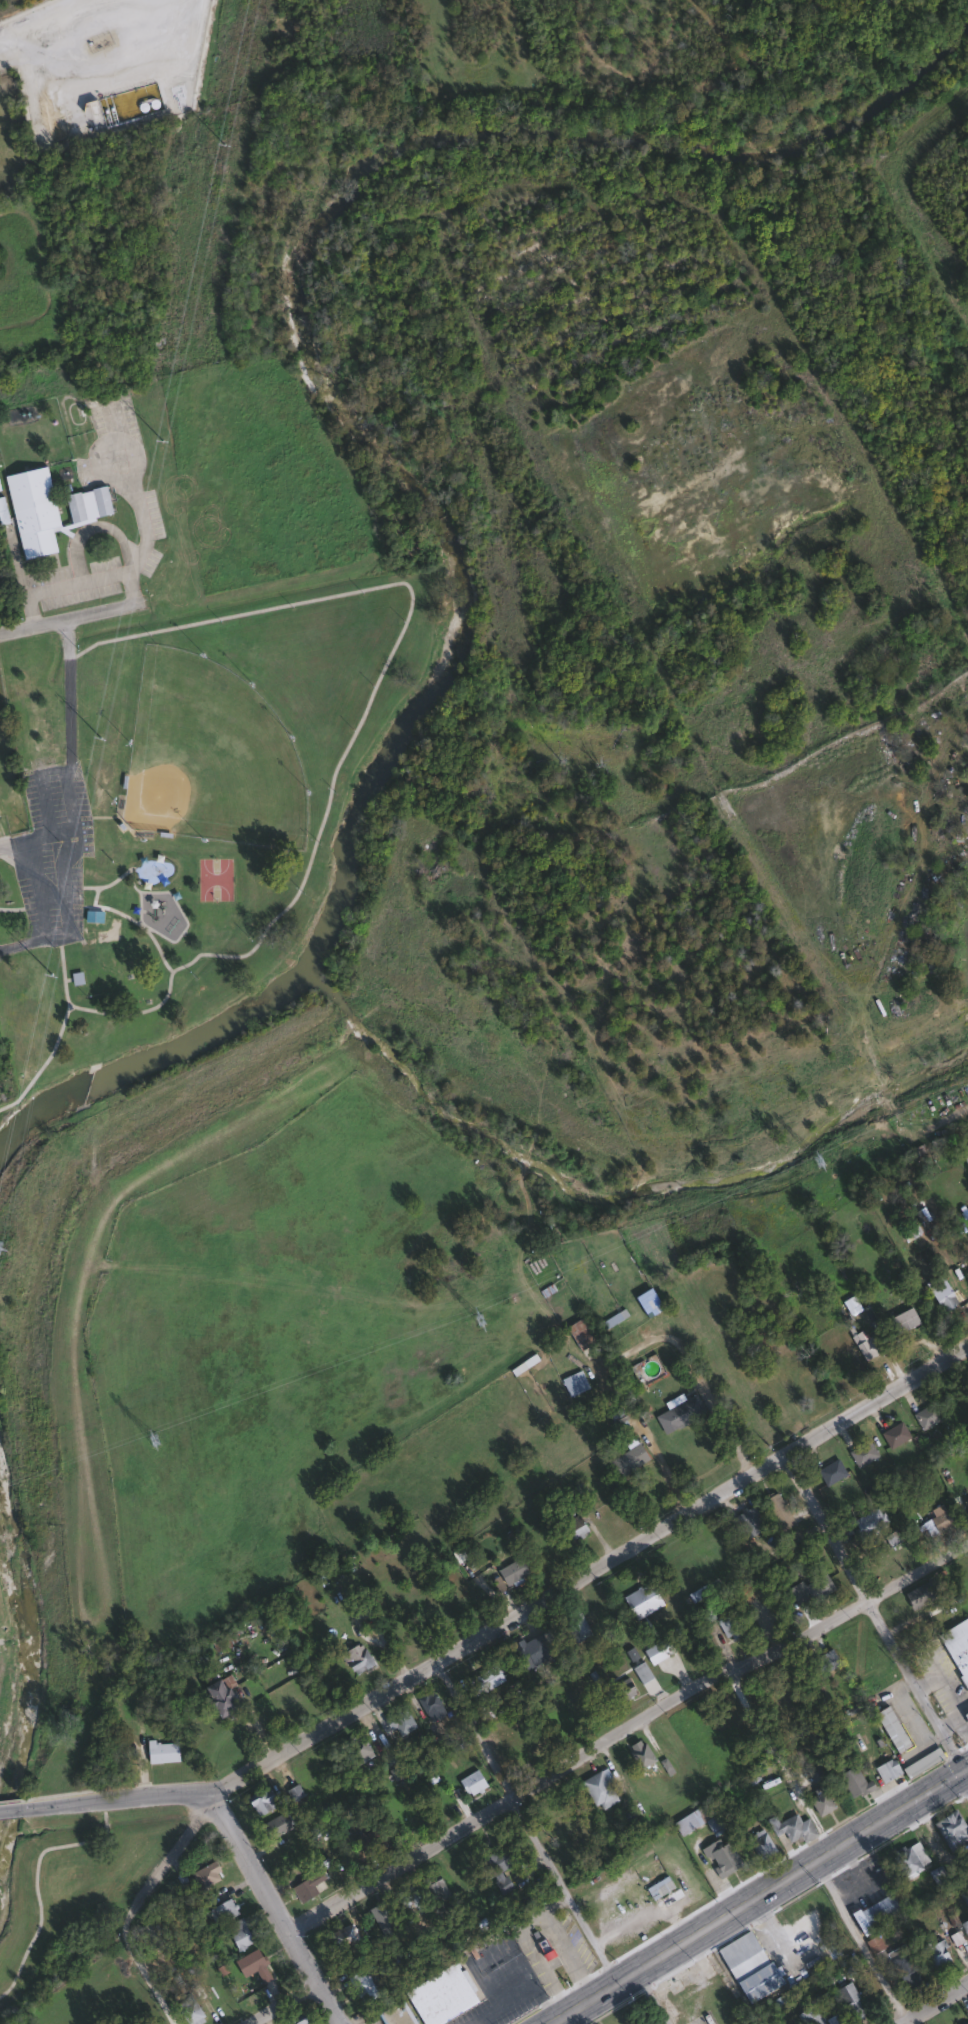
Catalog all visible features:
building: (74, 1)
building: (132, 48)
power tower: (221, 145)
building: (86, 504)
building: (30, 510)
road: (93, 524)
road: (79, 580)
road: (67, 621)
power tower: (99, 737)
road: (74, 760)
road: (334, 768)
park: (205, 785)
road: (15, 847)
road: (107, 882)
road: (137, 894)
road: (94, 896)
road: (39, 905)
building: (90, 913)
road: (183, 918)
road: (136, 921)
road: (9, 945)
park: (33, 1046)
power tower: (815, 1159)
building: (939, 1291)
building: (901, 1320)
building: (577, 1331)
building: (863, 1345)
building: (572, 1382)
building: (676, 1412)
building: (925, 1415)
building: (617, 1419)
building: (894, 1434)
power tower: (152, 1439)
building: (861, 1453)
building: (829, 1471)
building: (966, 1503)
building: (777, 1511)
building: (937, 1519)
building: (748, 1522)
building: (867, 1522)
building: (575, 1528)
building: (510, 1571)
road: (586, 1575)
building: (809, 1588)
building: (917, 1594)
building: (640, 1600)
road: (871, 1614)
building: (574, 1625)
building: (957, 1646)
building: (657, 1649)
building: (530, 1650)
park: (13, 1652)
building: (354, 1657)
building: (639, 1671)
building: (483, 1679)
road: (927, 1682)
building: (621, 1687)
road: (948, 1689)
building: (217, 1698)
building: (428, 1705)
road: (964, 1707)
building: (966, 1714)
building: (911, 1715)
building: (400, 1721)
road: (961, 1723)
road: (623, 1726)
building: (890, 1727)
building: (354, 1749)
building: (159, 1751)
building: (639, 1752)
road: (780, 1761)
building: (883, 1761)
building: (921, 1761)
road: (964, 1777)
building: (852, 1779)
building: (470, 1781)
building: (597, 1789)
building: (820, 1797)
road: (13, 1799)
road: (118, 1799)
building: (260, 1800)
road: (14, 1809)
road: (525, 1822)
building: (272, 1824)
building: (952, 1828)
building: (780, 1833)
building: (370, 1839)
road: (56, 1846)
building: (721, 1854)
building: (908, 1857)
road: (161, 1867)
building: (498, 1868)
building: (202, 1875)
park: (72, 1884)
building: (433, 1884)
building: (305, 1885)
building: (658, 1886)
road: (756, 1894)
building: (407, 1896)
road: (277, 1909)
building: (220, 1910)
building: (873, 1911)
road: (642, 1915)
building: (381, 1916)
building: (965, 1927)
building: (237, 1932)
building: (149, 1937)
building: (339, 1937)
road: (860, 1940)
road: (532, 1944)
road: (567, 1952)
building: (934, 1952)
building: (250, 1964)
building: (747, 1965)
building: (902, 1965)
road: (149, 1979)
building: (360, 1985)
building: (439, 1994)
road: (653, 1995)
building: (849, 2000)
road: (934, 2002)
road: (282, 2004)
building: (395, 2013)
building: (833, 2019)
building: (294, 2020)
building: (967, 2023)

